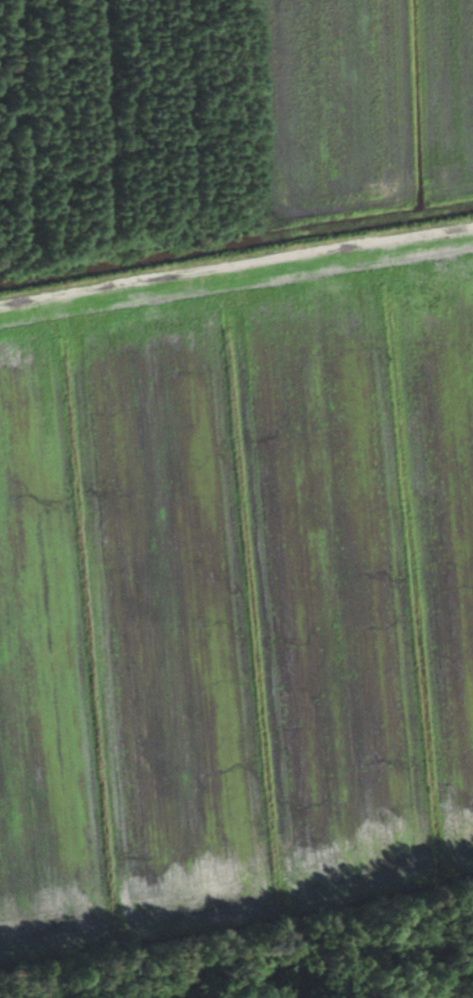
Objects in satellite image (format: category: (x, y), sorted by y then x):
road: (236, 261)

